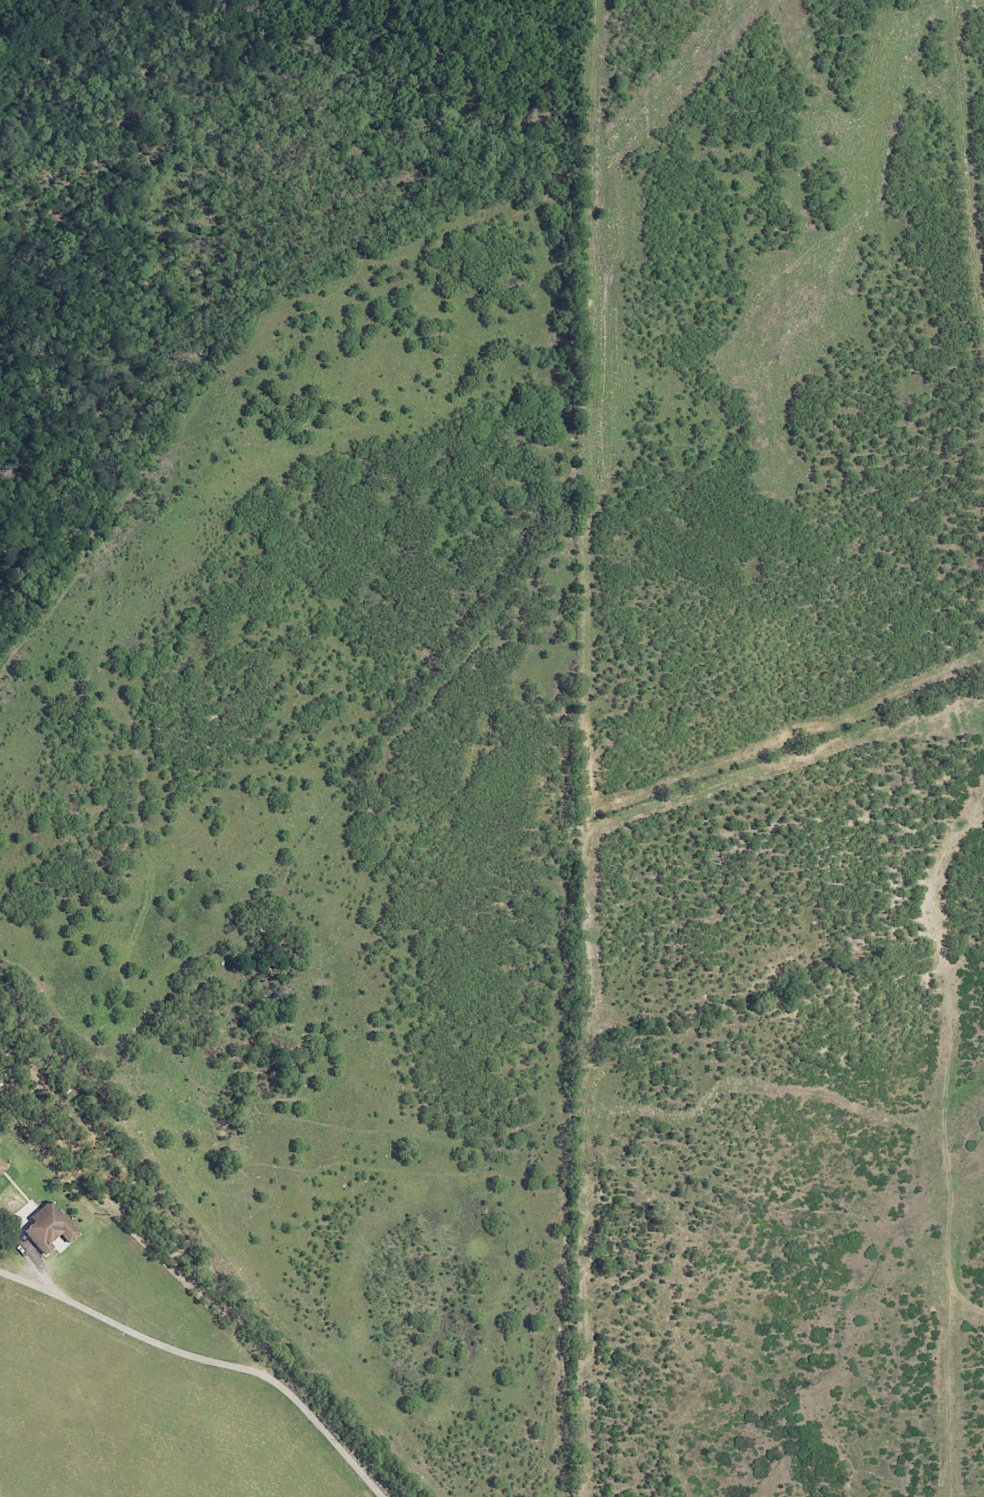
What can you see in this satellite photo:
building: (2, 1166)
building: (50, 1227)
road: (33, 1250)
road: (207, 1362)

